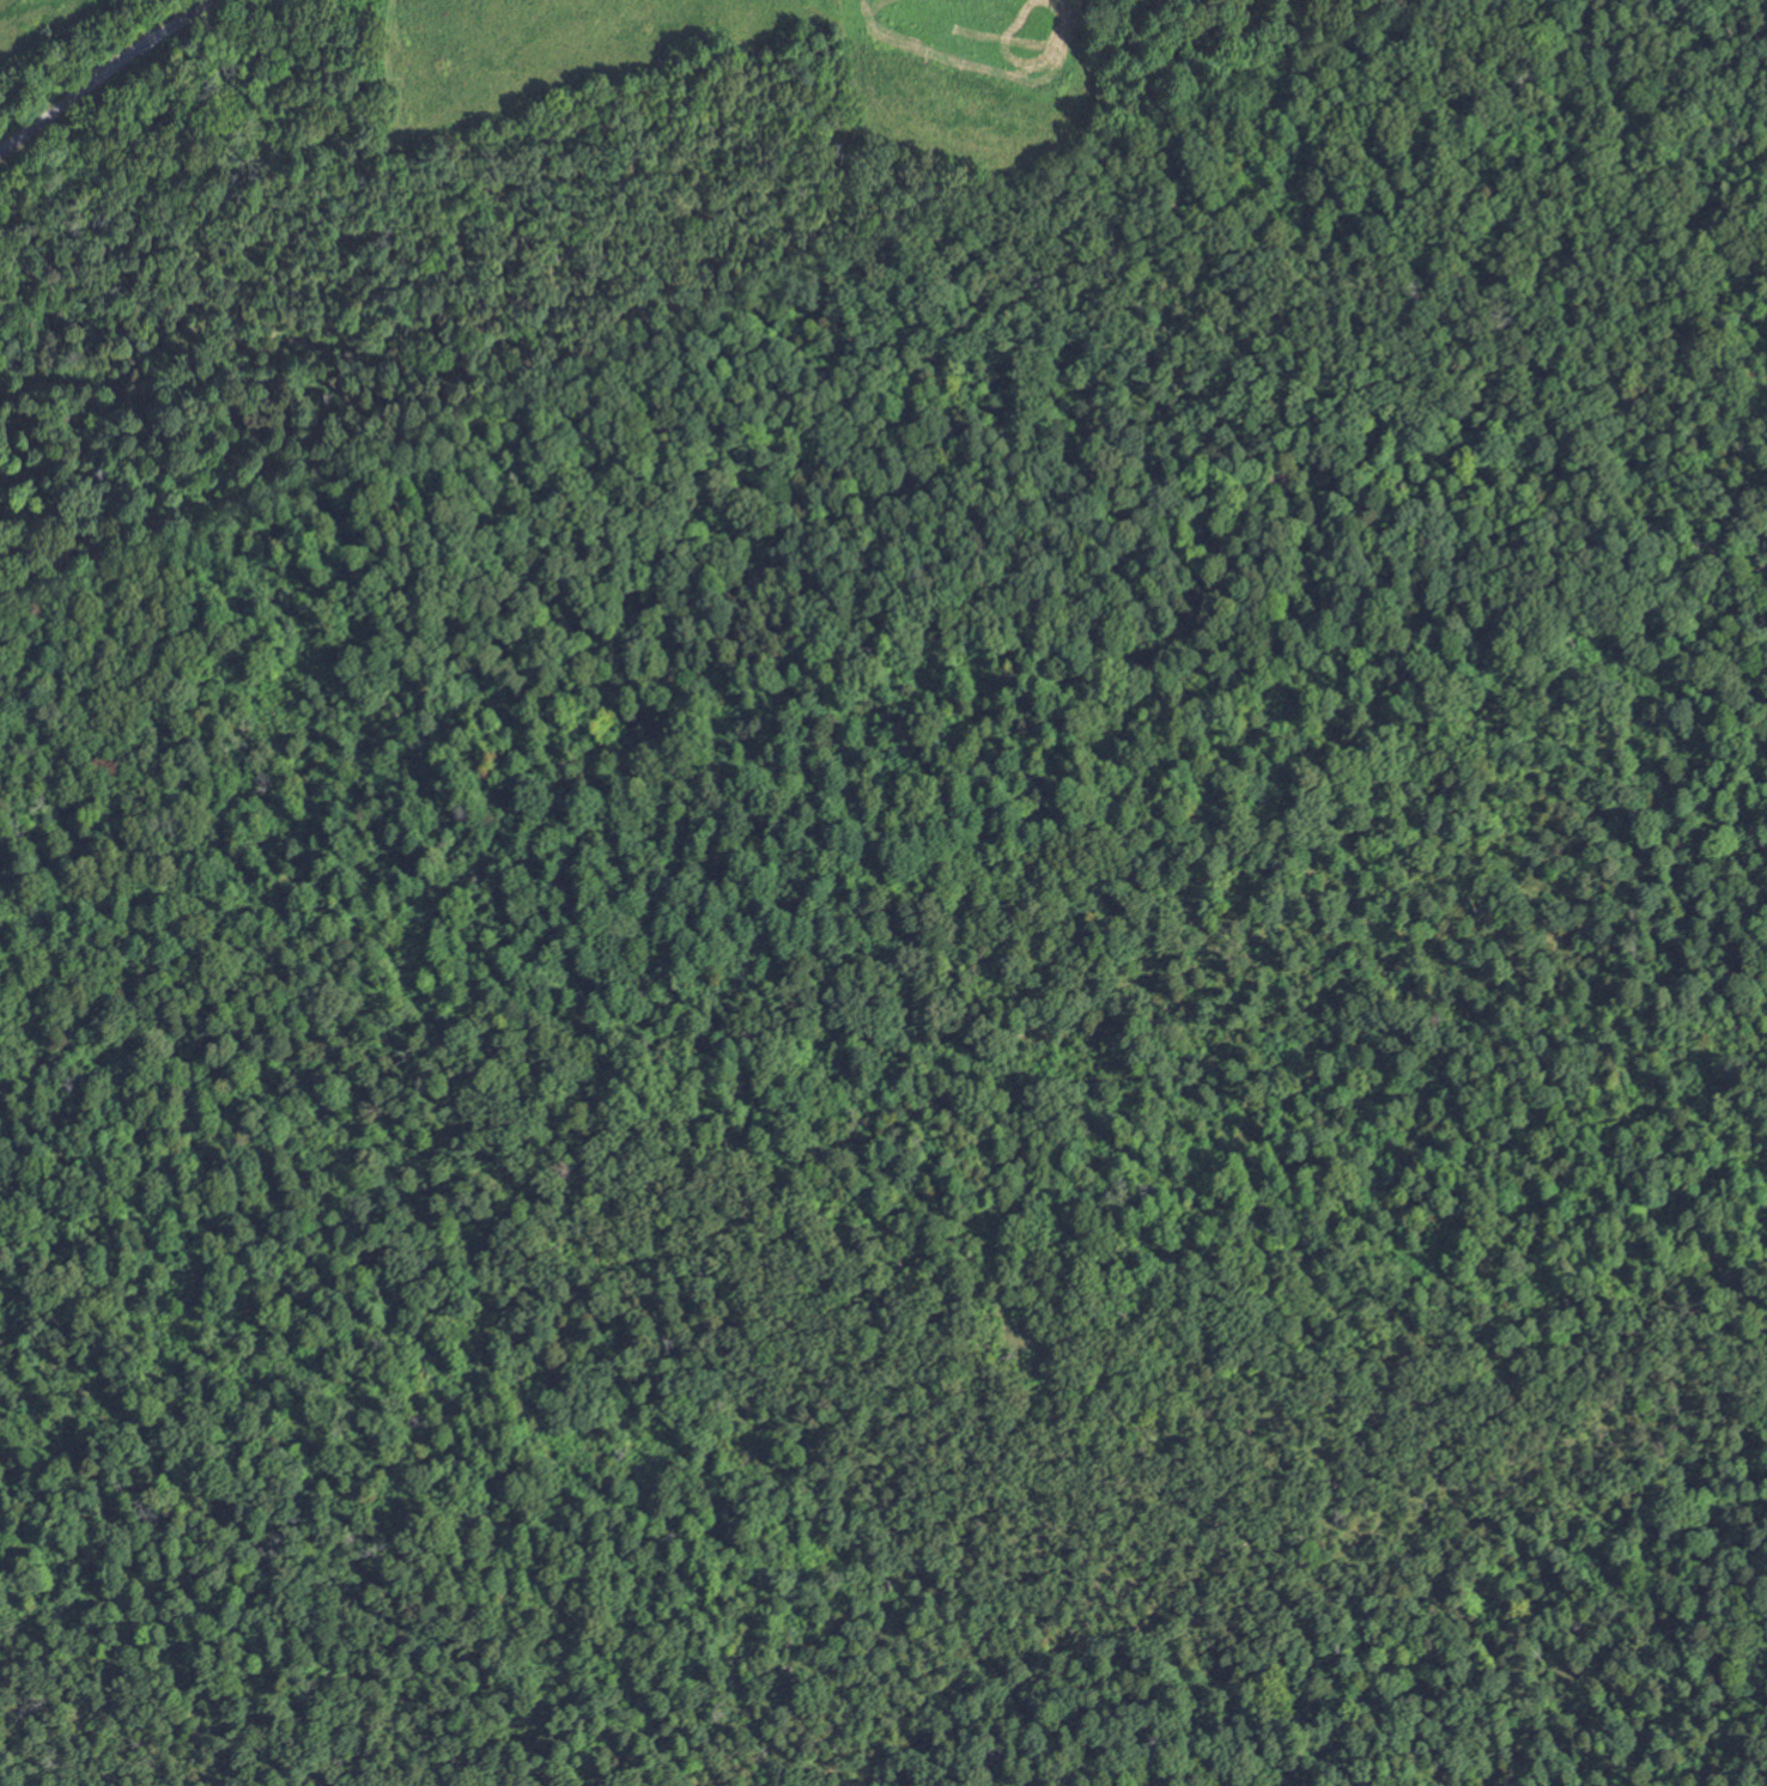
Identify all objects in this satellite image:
road: (102, 73)

